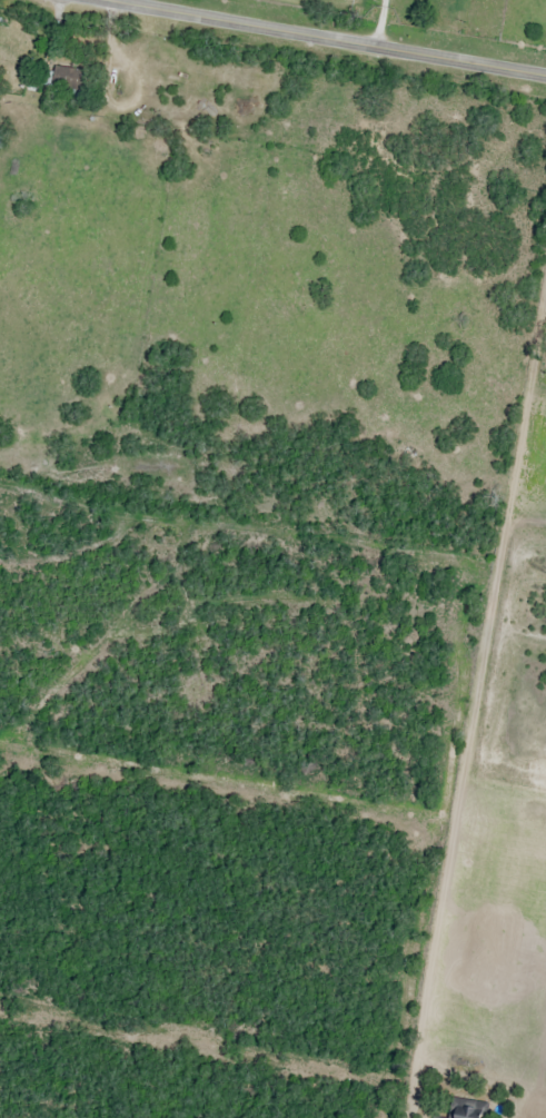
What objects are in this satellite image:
road: (327, 37)
building: (63, 78)
building: (463, 1108)

